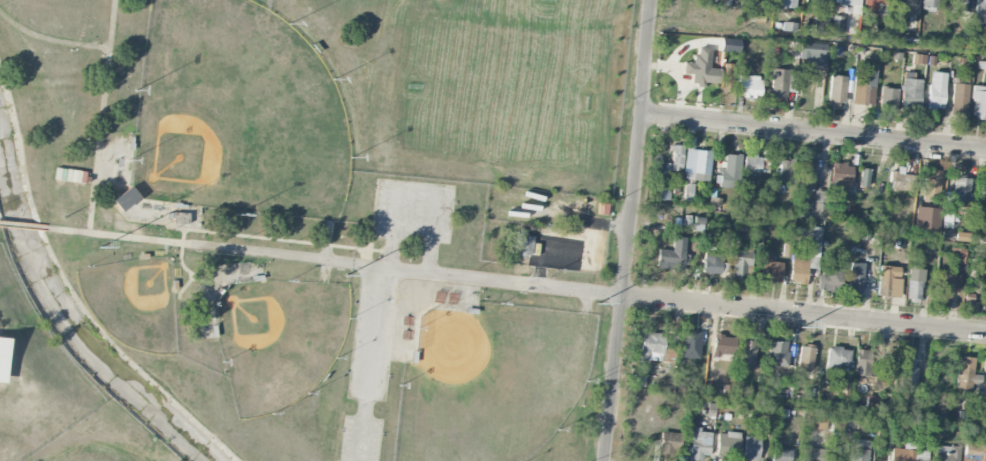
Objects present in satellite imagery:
building: (712, 0)
building: (812, 2)
building: (788, 3)
building: (929, 3)
building: (851, 4)
building: (873, 5)
building: (957, 5)
building: (906, 6)
building: (980, 11)
building: (820, 24)
building: (839, 25)
building: (789, 27)
road: (818, 40)
building: (812, 51)
building: (702, 68)
building: (727, 77)
building: (783, 82)
building: (864, 84)
building: (748, 85)
building: (837, 88)
building: (910, 90)
building: (937, 90)
building: (888, 98)
building: (960, 98)
building: (979, 102)
park: (238, 112)
road: (814, 132)
building: (675, 159)
building: (752, 163)
building: (697, 164)
building: (787, 170)
building: (730, 171)
building: (841, 174)
building: (807, 175)
building: (863, 177)
building: (901, 181)
building: (931, 185)
building: (983, 189)
building: (688, 192)
building: (663, 193)
building: (957, 195)
building: (125, 198)
building: (813, 206)
building: (927, 214)
road: (22, 225)
park: (306, 227)
road: (630, 230)
building: (815, 235)
building: (962, 236)
building: (523, 243)
power tower: (101, 250)
road: (251, 252)
building: (673, 255)
building: (958, 255)
building: (714, 263)
building: (741, 263)
building: (800, 266)
building: (770, 269)
power tower: (346, 274)
building: (830, 278)
building: (856, 278)
building: (889, 281)
building: (914, 283)
building: (947, 287)
building: (969, 304)
power tower: (598, 305)
road: (721, 305)
power tower: (801, 326)
building: (691, 344)
building: (721, 344)
building: (652, 346)
building: (746, 353)
building: (777, 353)
building: (3, 357)
building: (805, 357)
building: (837, 357)
building: (863, 363)
building: (909, 372)
building: (966, 374)
building: (882, 377)
building: (841, 388)
building: (872, 401)
road: (841, 408)
building: (980, 410)
building: (819, 422)
building: (838, 422)
building: (669, 442)
building: (728, 442)
building: (699, 444)
building: (751, 447)
building: (859, 450)
building: (974, 452)
building: (814, 453)
building: (946, 453)
building: (781, 454)
building: (908, 455)

